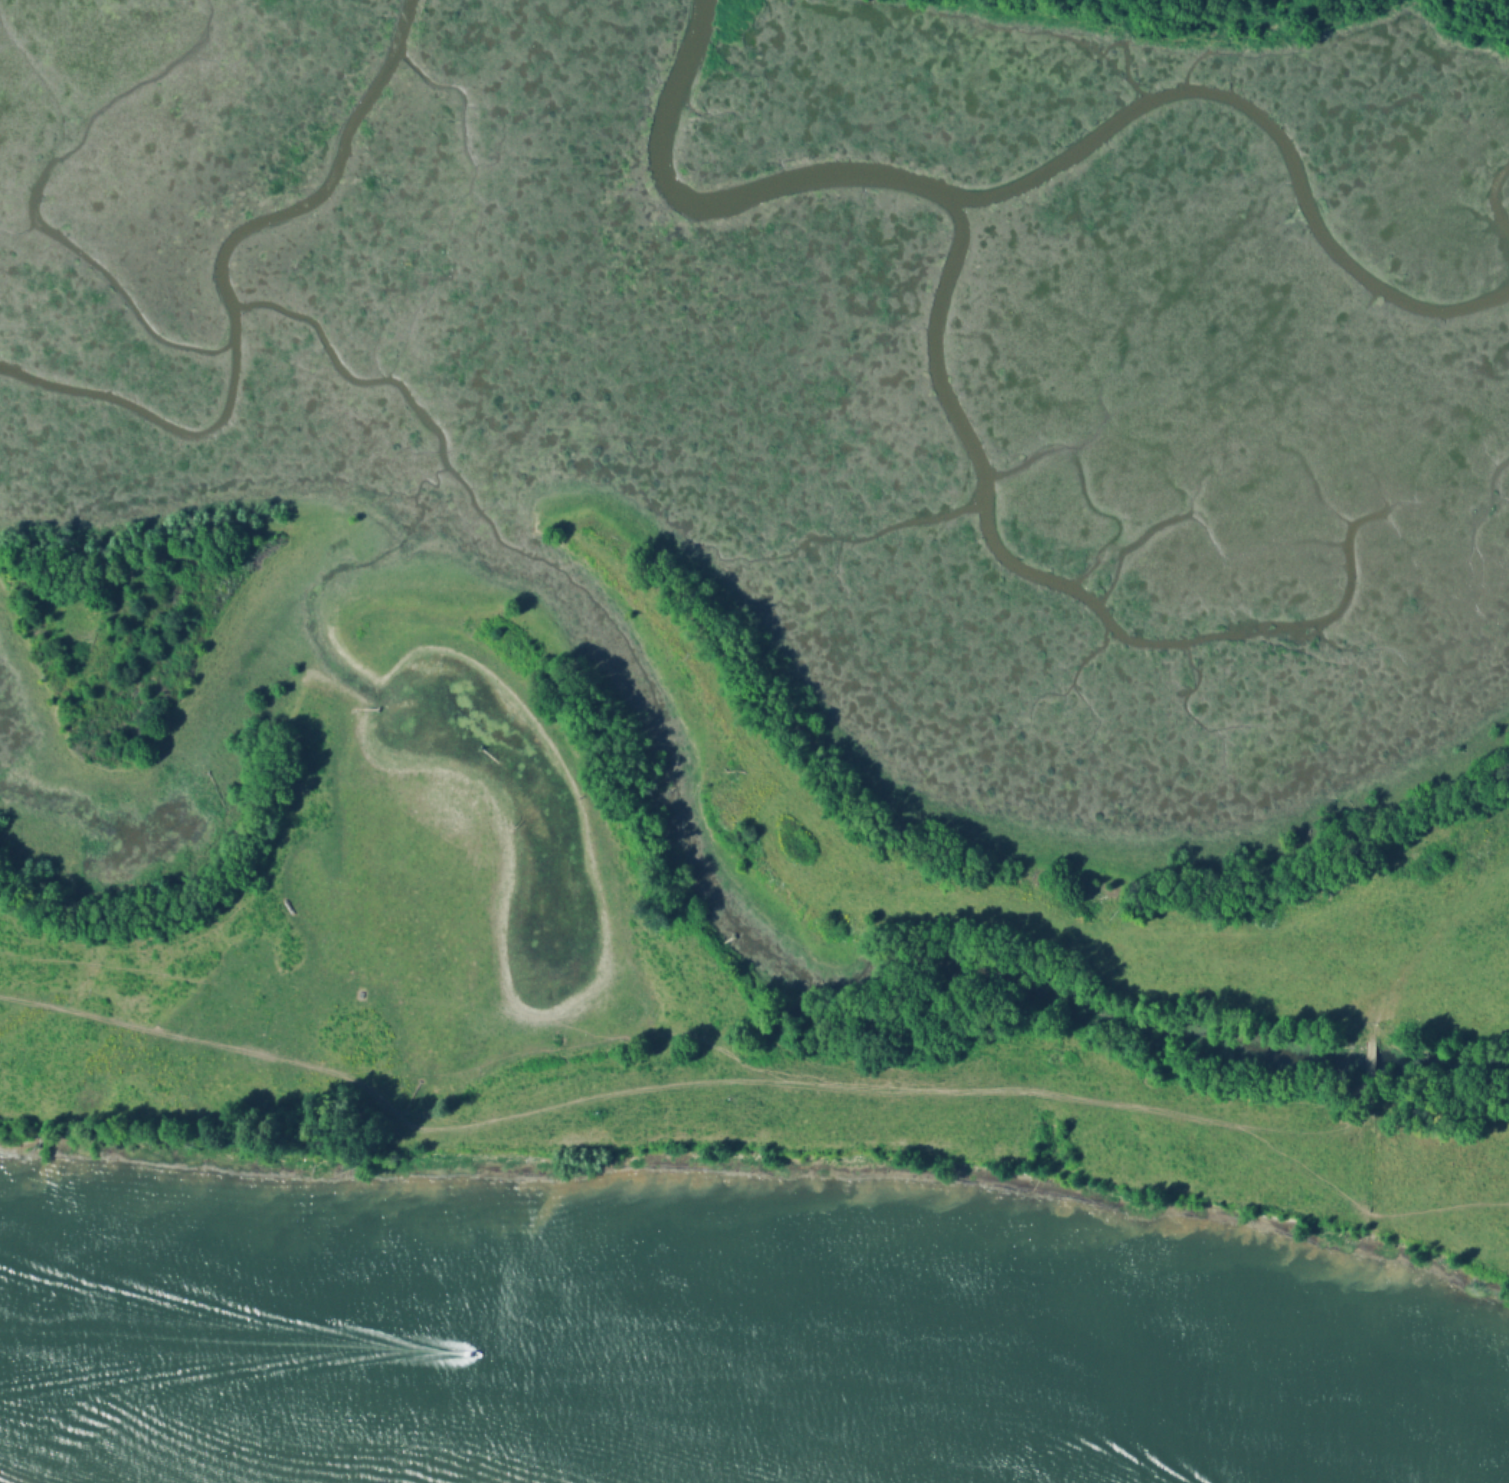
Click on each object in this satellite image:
road: (1370, 1046)
river: (666, 1384)

